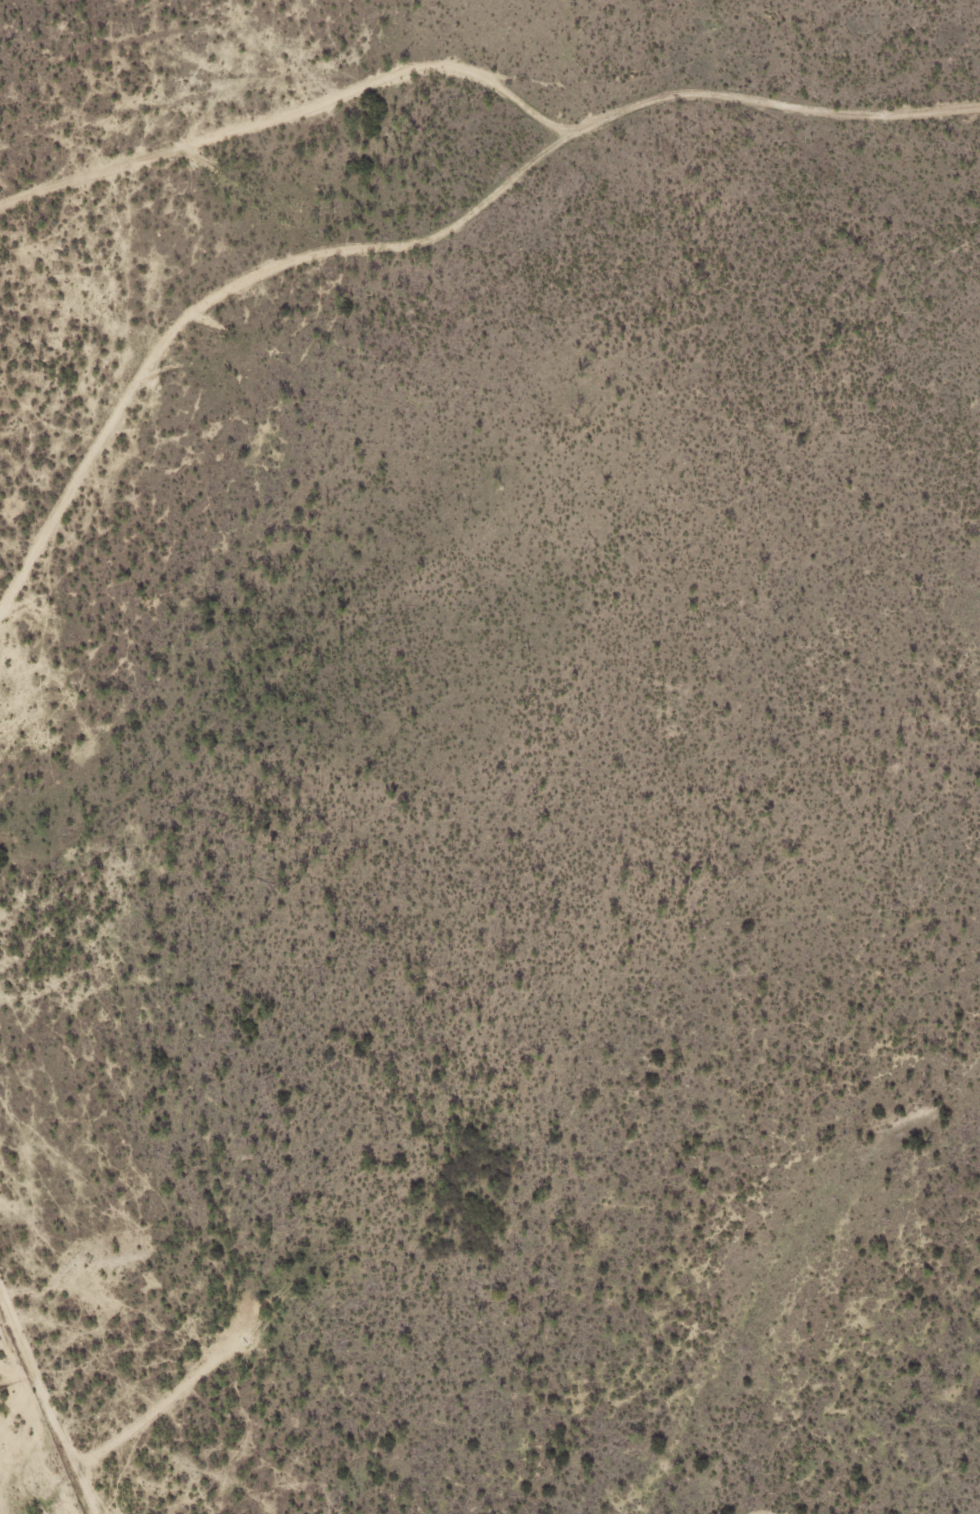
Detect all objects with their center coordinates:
road: (487, 103)
road: (234, 343)
road: (21, 1446)

